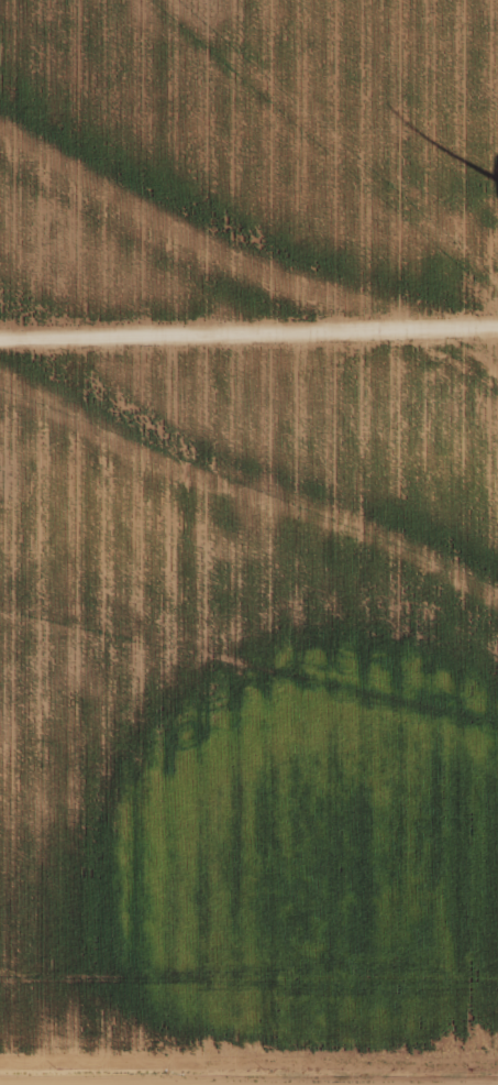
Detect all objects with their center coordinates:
road: (248, 1078)

